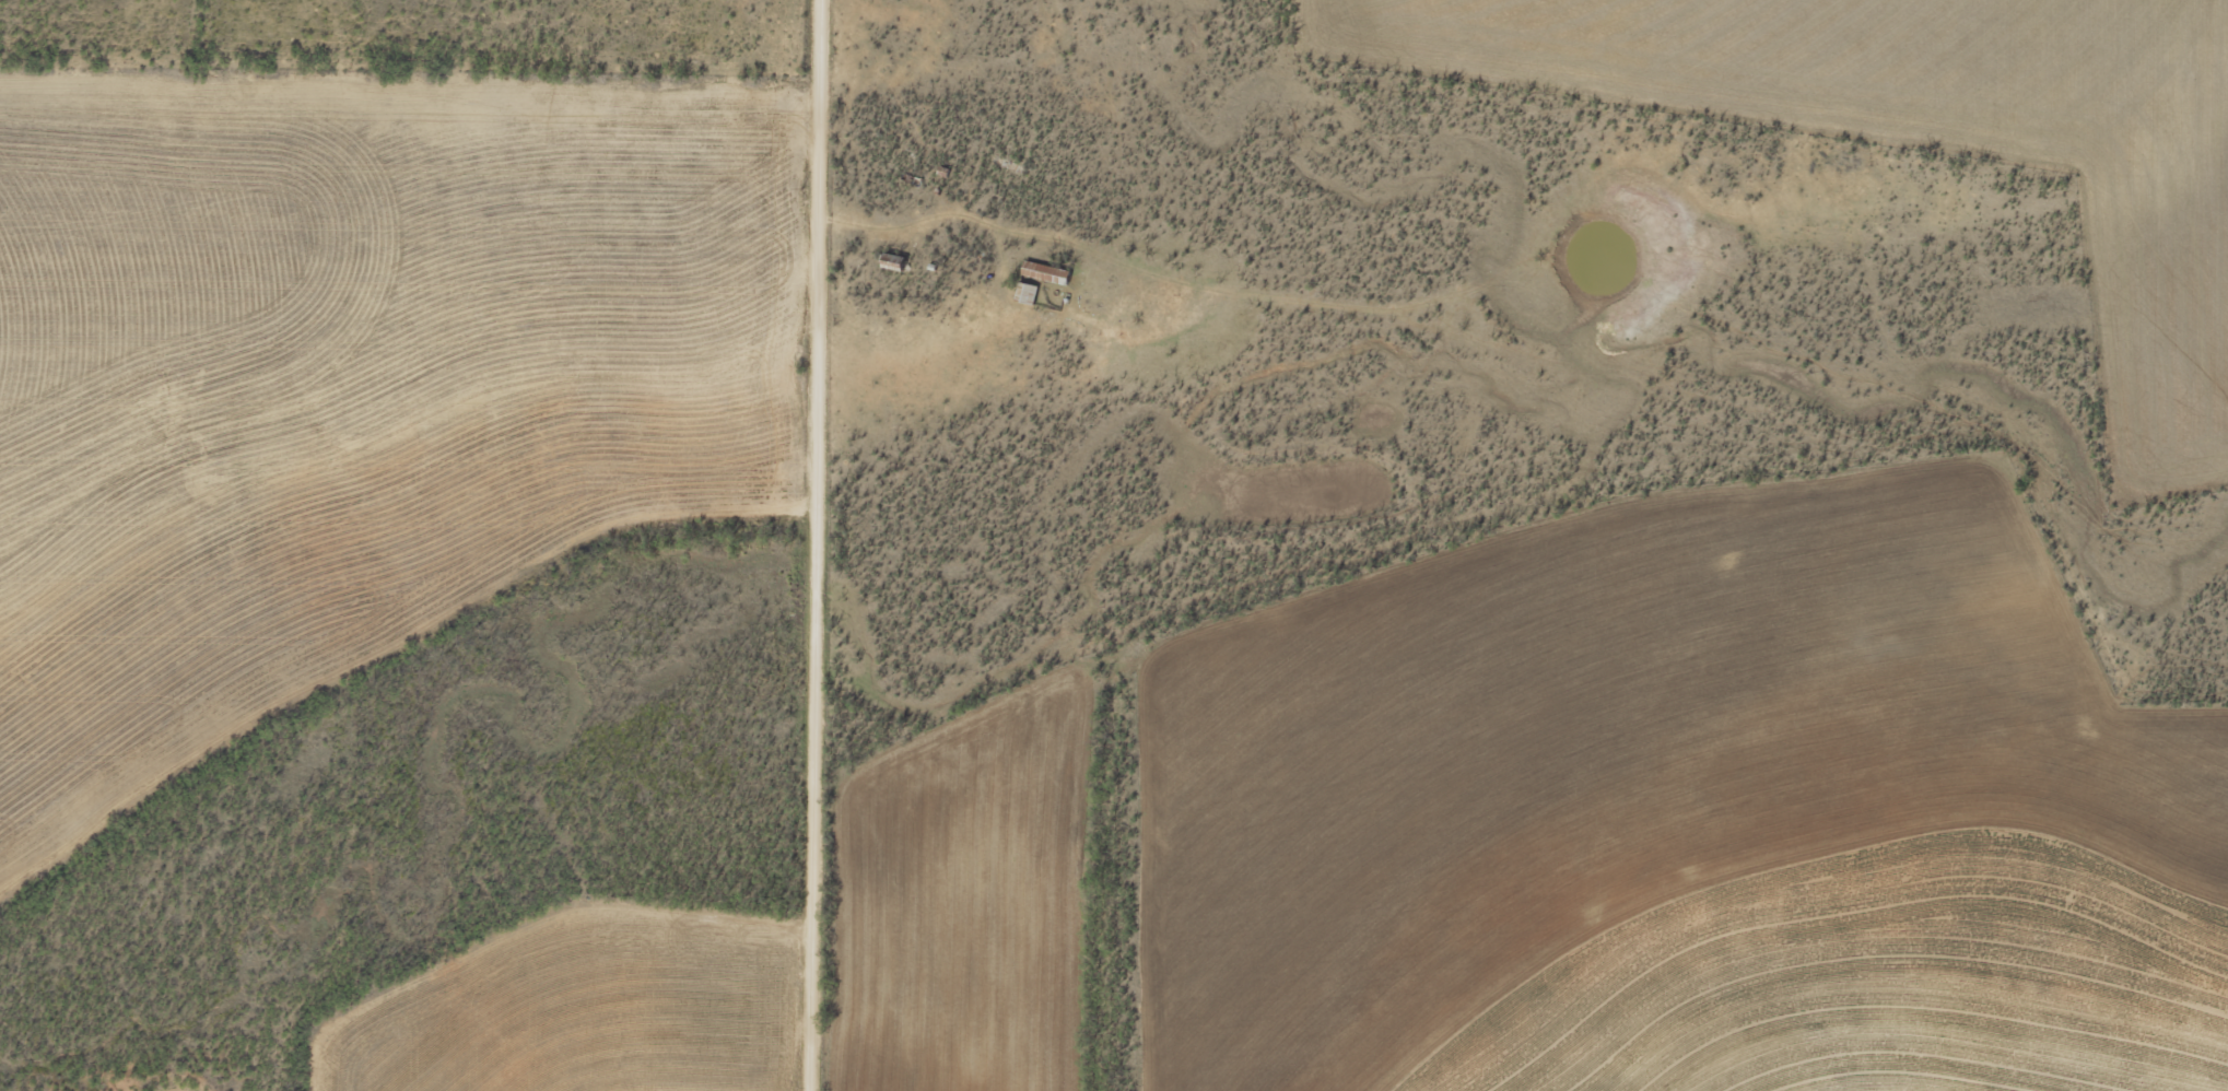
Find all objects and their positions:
road: (877, 544)

